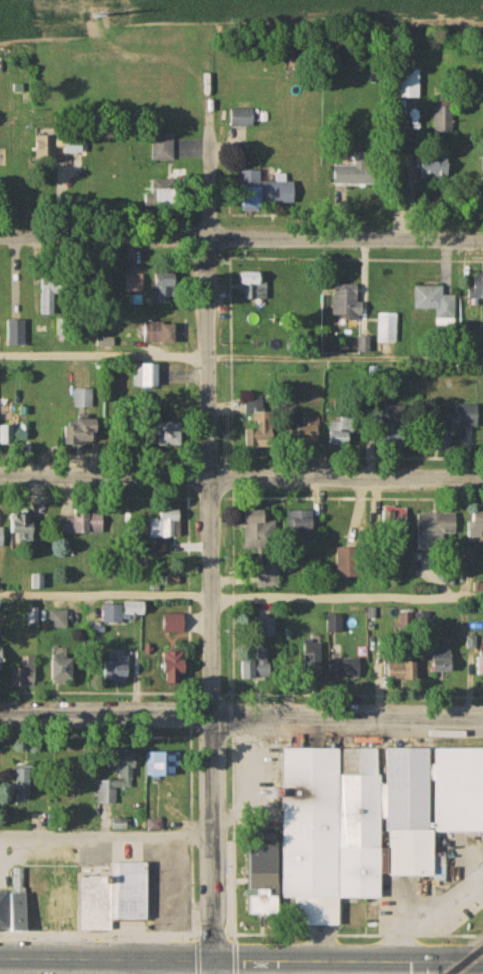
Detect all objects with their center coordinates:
building: (68, 9)
building: (408, 85)
building: (242, 119)
building: (69, 145)
building: (163, 148)
building: (42, 149)
building: (435, 168)
building: (357, 174)
building: (251, 188)
building: (280, 192)
building: (164, 195)
road: (241, 236)
building: (253, 287)
building: (477, 287)
building: (164, 290)
building: (51, 294)
building: (348, 301)
building: (435, 303)
building: (386, 329)
building: (15, 334)
building: (161, 334)
road: (241, 358)
building: (145, 377)
building: (82, 399)
building: (465, 417)
building: (259, 426)
building: (392, 428)
building: (83, 431)
building: (311, 432)
building: (340, 434)
building: (172, 436)
road: (241, 476)
building: (394, 519)
building: (476, 521)
building: (83, 523)
building: (302, 525)
building: (167, 526)
building: (23, 528)
building: (435, 531)
building: (261, 532)
building: (1, 538)
road: (213, 549)
building: (348, 564)
building: (268, 577)
road: (241, 598)
building: (136, 609)
building: (113, 615)
building: (57, 621)
building: (174, 625)
building: (334, 625)
building: (1, 657)
building: (313, 660)
building: (444, 660)
building: (482, 663)
building: (256, 664)
building: (119, 668)
building: (175, 668)
building: (346, 669)
building: (64, 671)
building: (402, 673)
building: (24, 674)
road: (241, 716)
building: (159, 765)
building: (114, 783)
building: (24, 786)
building: (361, 826)
road: (107, 834)
building: (115, 896)
building: (19, 901)
building: (373, 916)
road: (430, 919)
road: (241, 961)
railway: (467, 962)
road: (132, 967)

